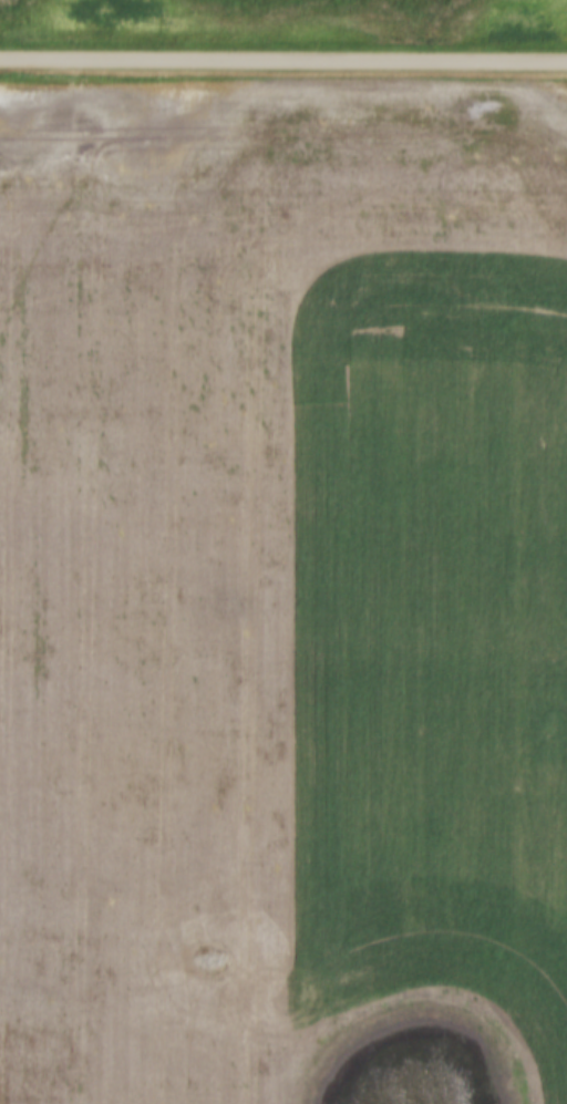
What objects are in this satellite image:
road: (282, 58)

